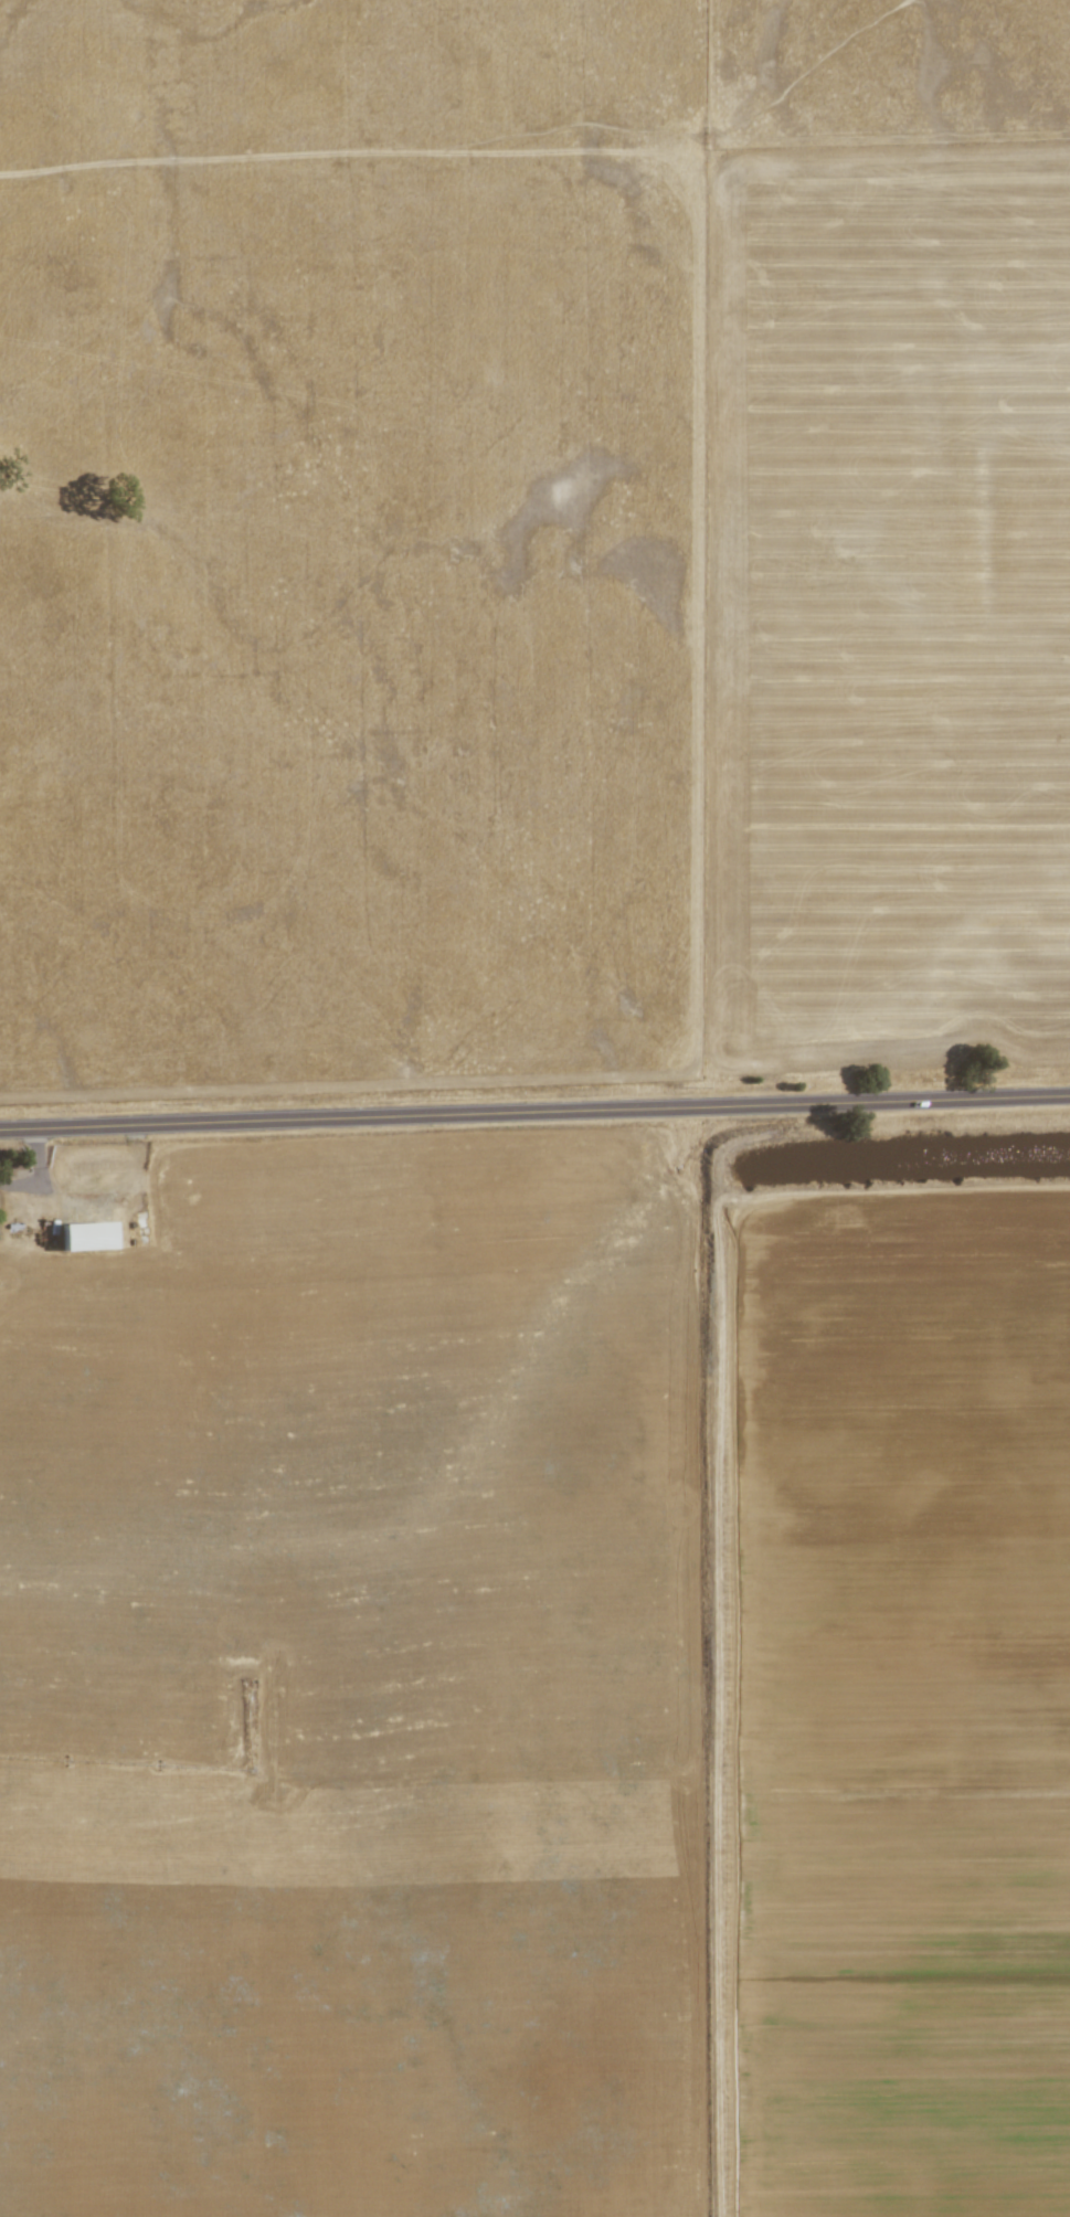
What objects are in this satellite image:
road: (534, 1112)
road: (36, 1173)
building: (86, 1237)

